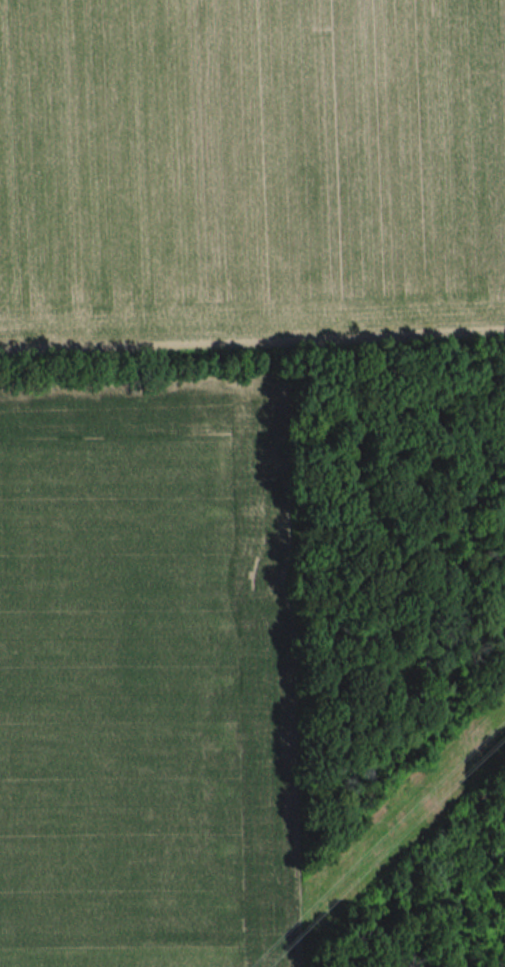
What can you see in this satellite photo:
crop: (250, 170)
crop: (146, 674)

